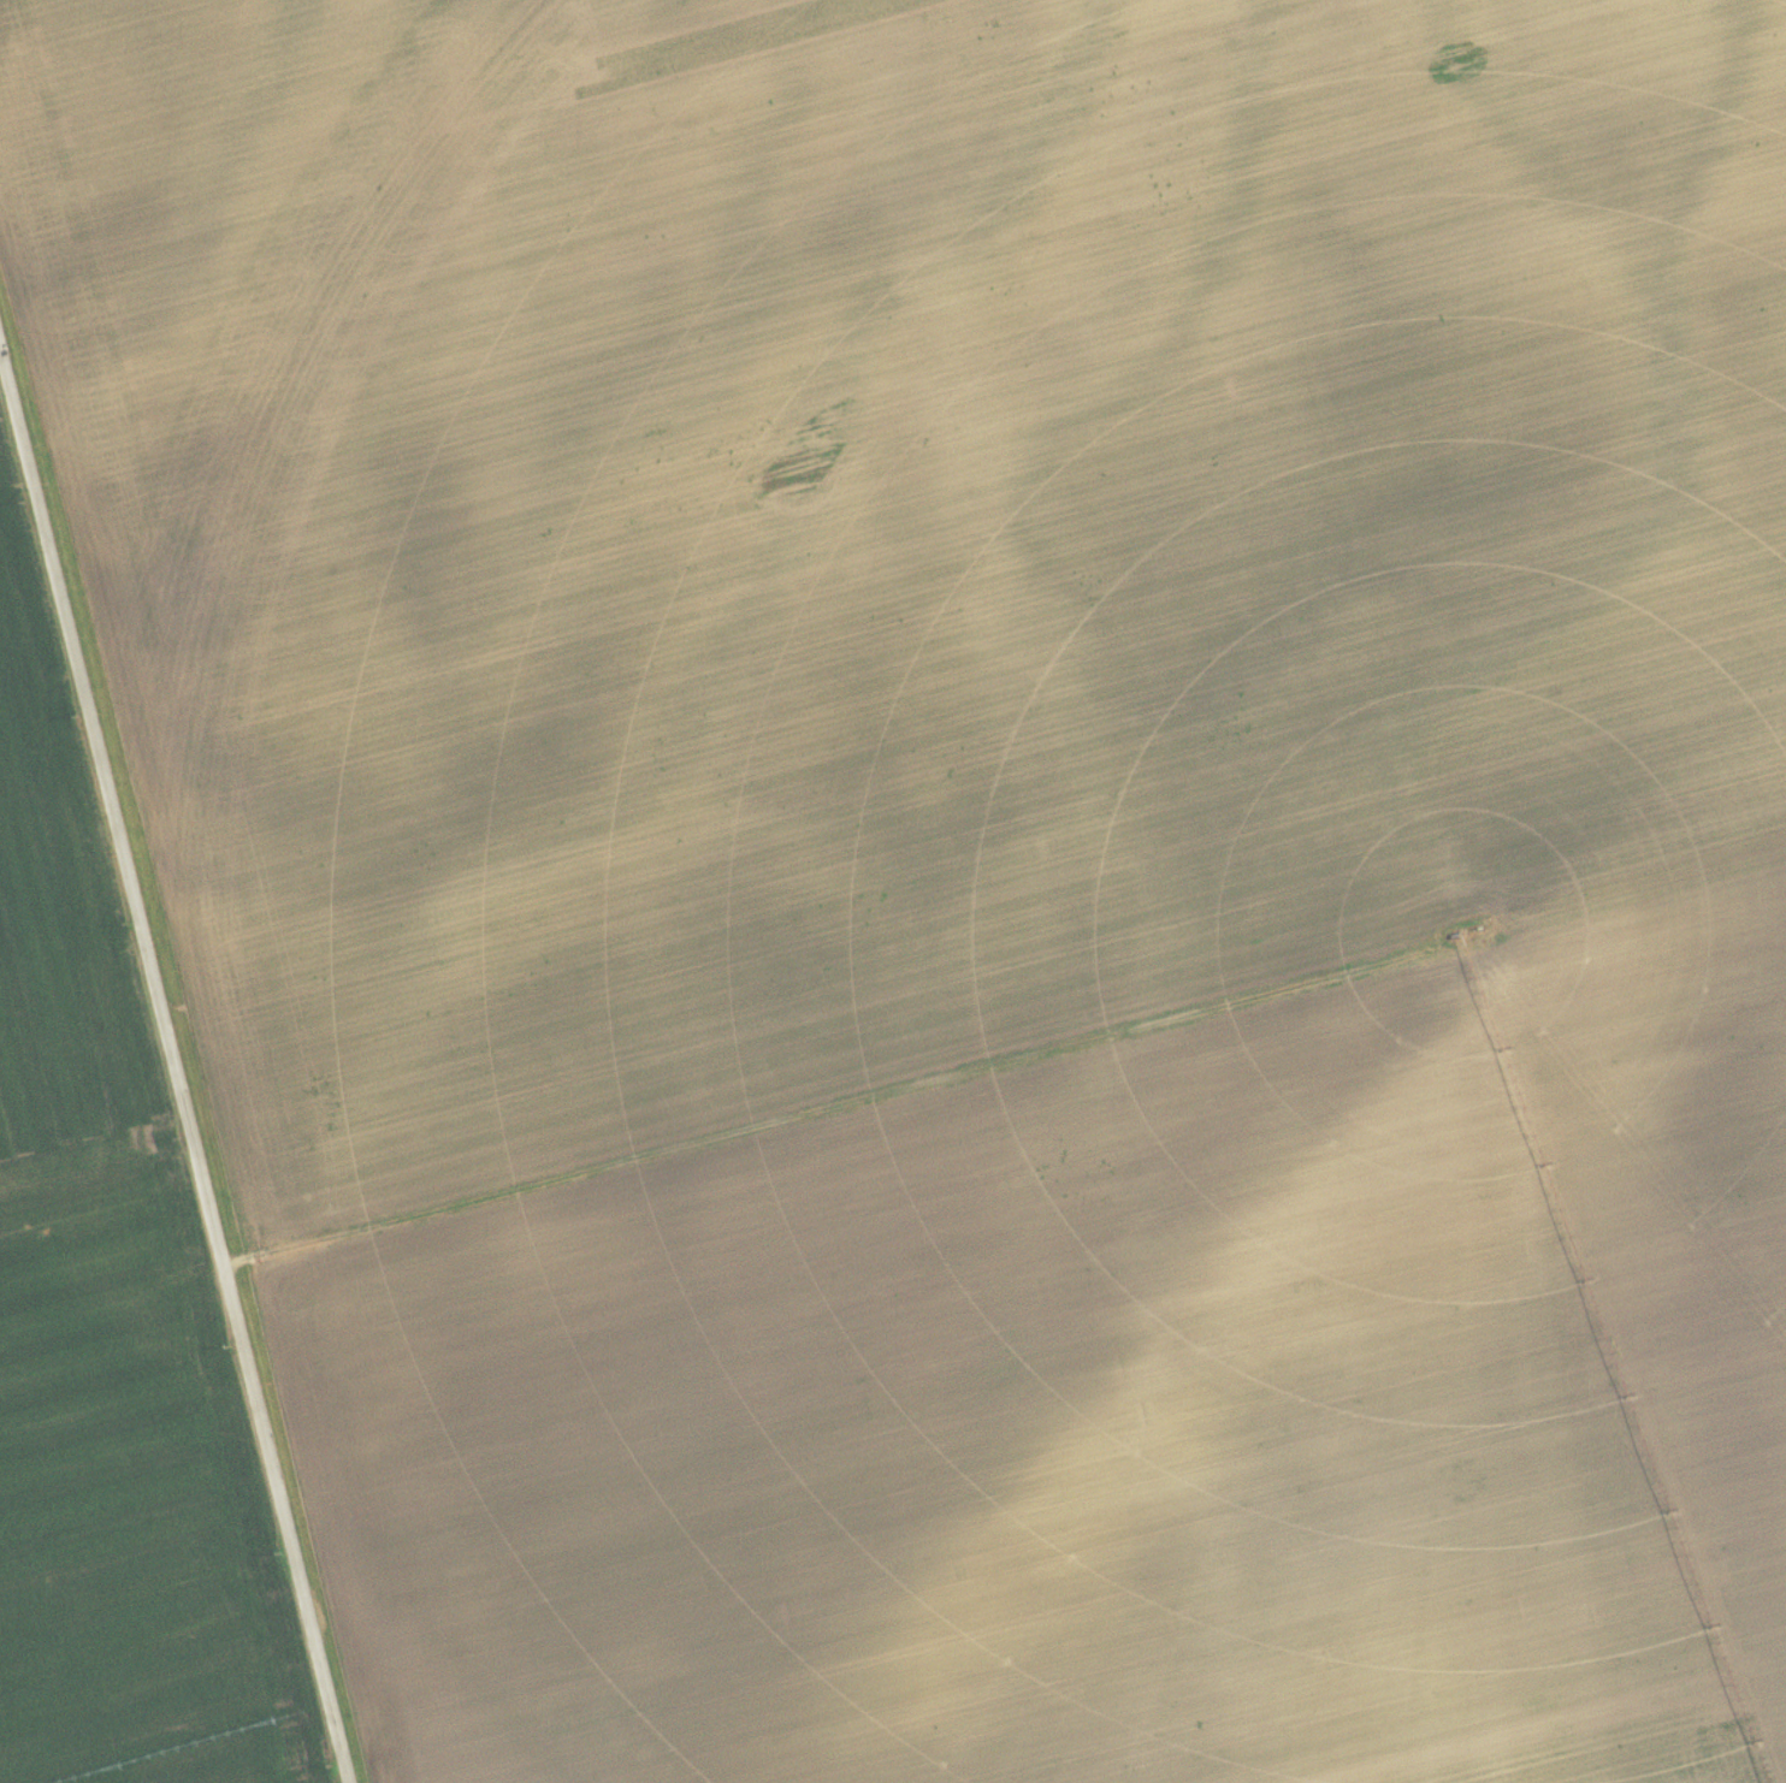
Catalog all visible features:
road: (173, 1071)

